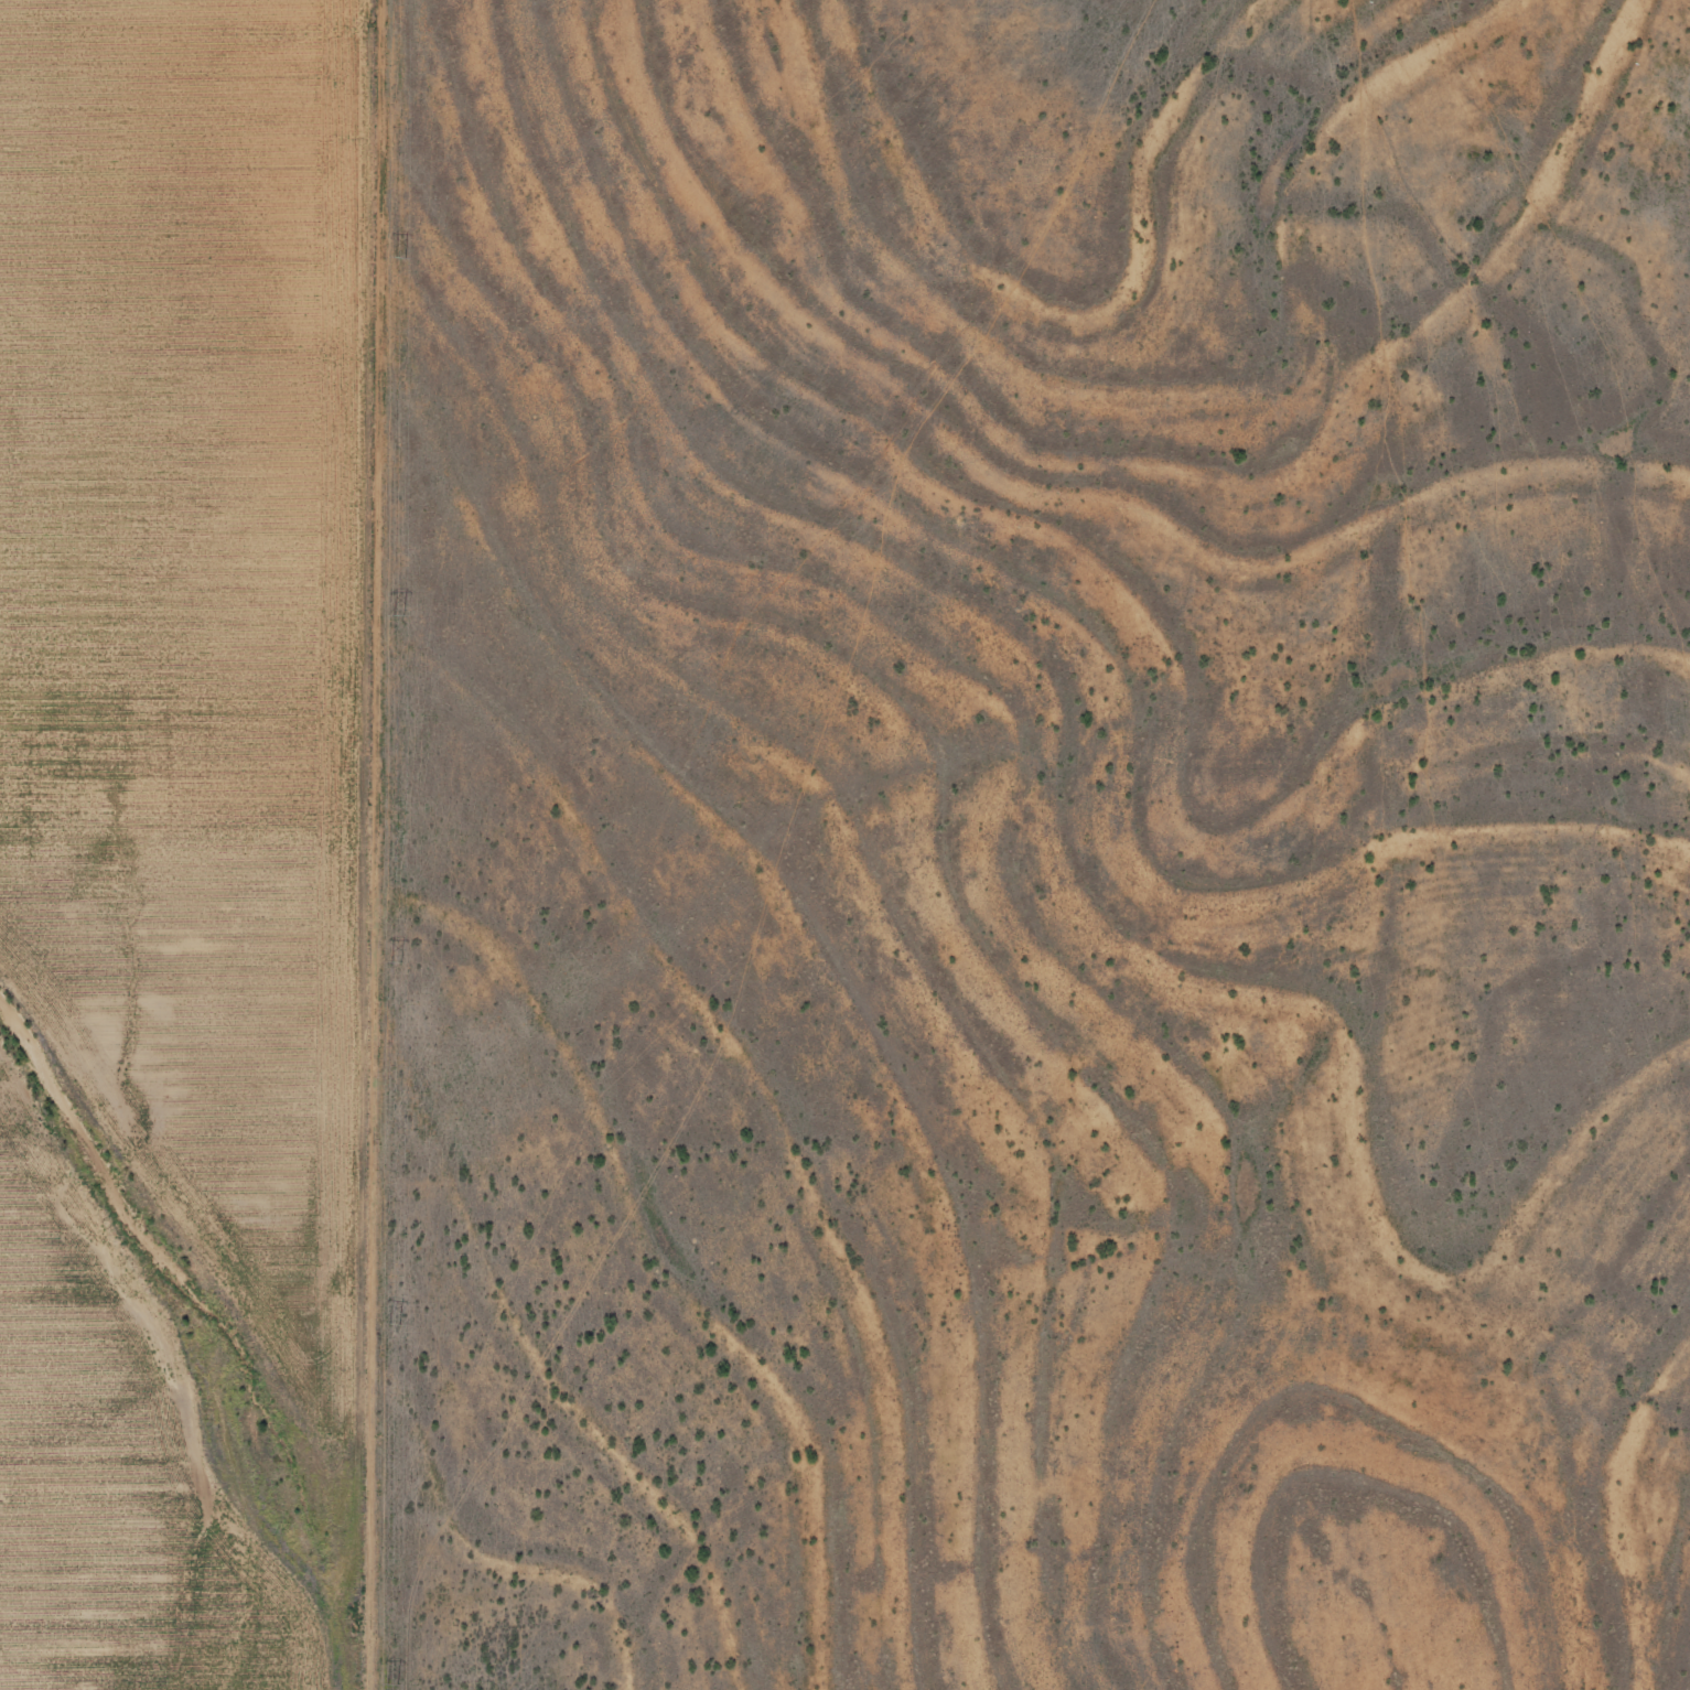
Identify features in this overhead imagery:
power tower: (399, 260)
power tower: (397, 617)
power tower: (396, 964)
power tower: (394, 1324)
power tower: (392, 1683)

